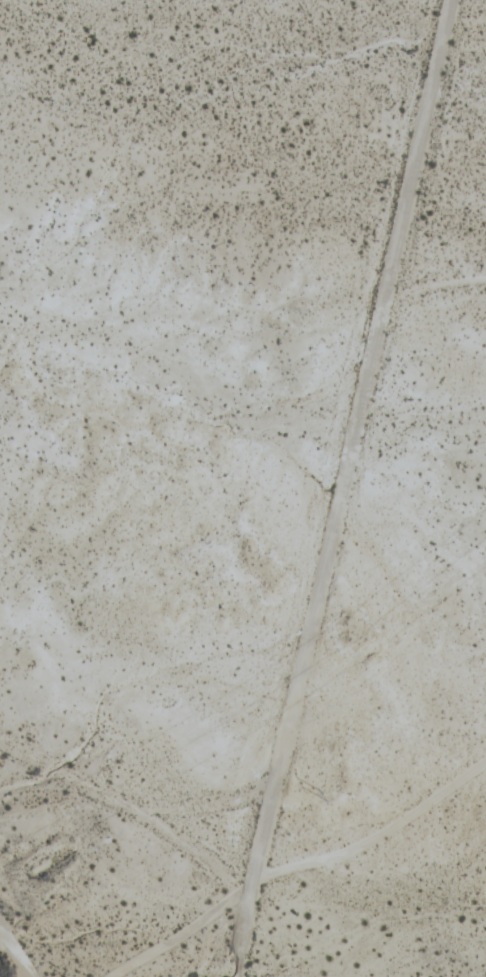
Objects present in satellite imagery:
road: (344, 490)
power tower: (321, 793)

